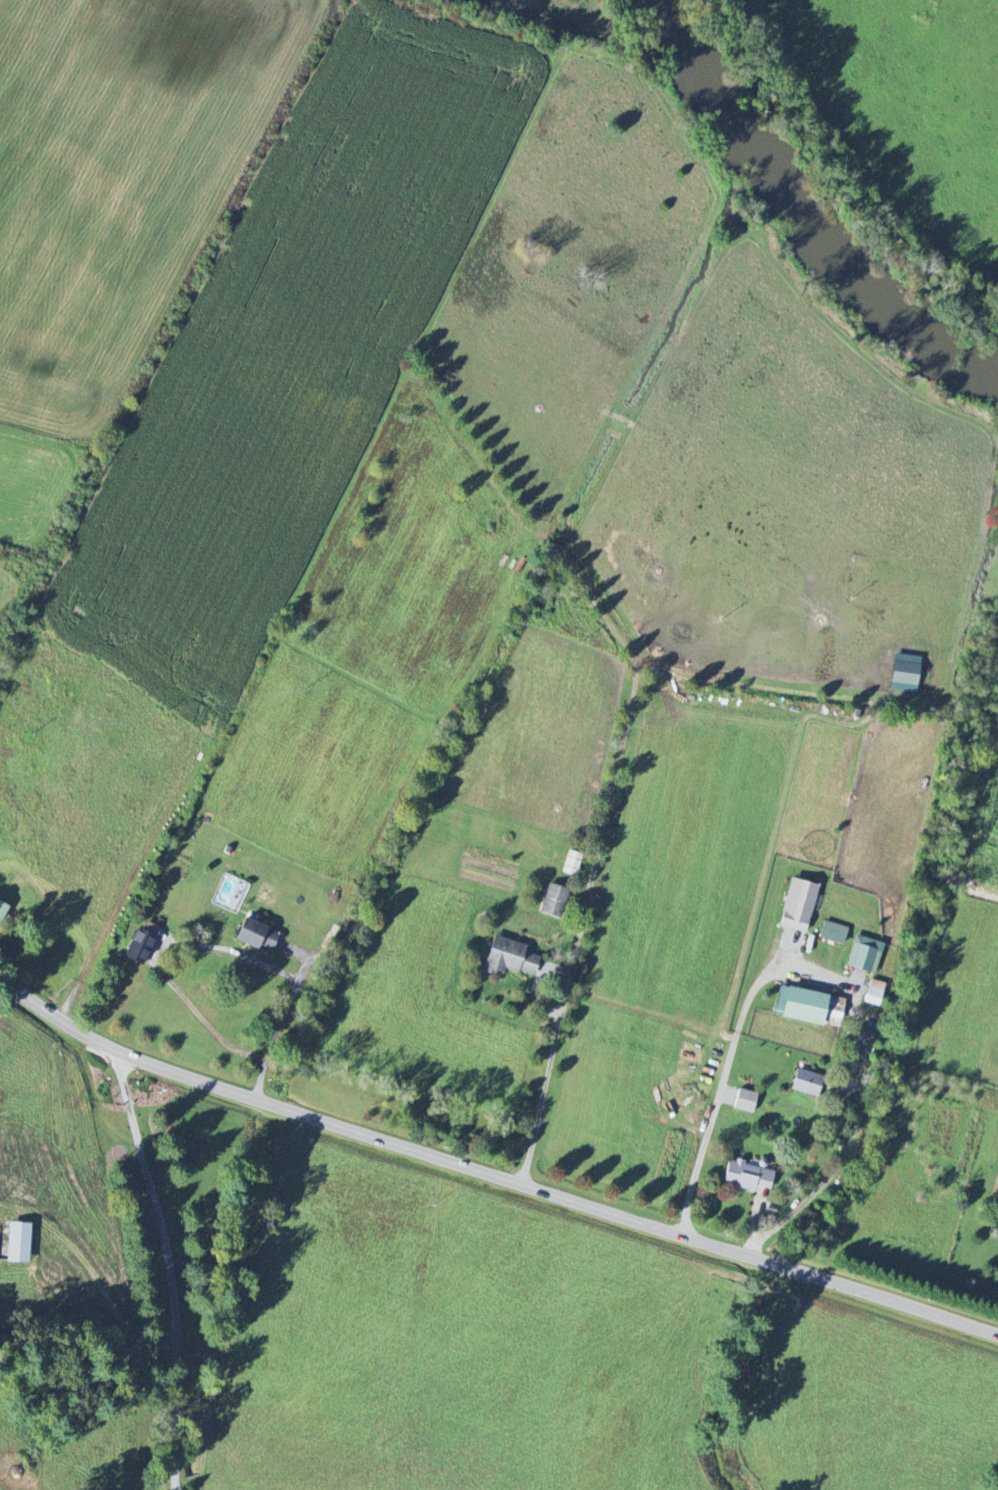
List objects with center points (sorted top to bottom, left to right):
river: (722, 85)
river: (883, 277)
building: (904, 673)
building: (571, 863)
building: (554, 901)
building: (798, 905)
building: (2, 910)
building: (833, 933)
building: (257, 936)
road: (211, 946)
building: (133, 947)
building: (865, 955)
building: (509, 957)
road: (828, 975)
building: (874, 993)
building: (800, 1005)
road: (560, 1037)
building: (806, 1083)
building: (745, 1101)
road: (274, 1105)
building: (747, 1176)
building: (17, 1242)
road: (780, 1267)
road: (169, 1268)

